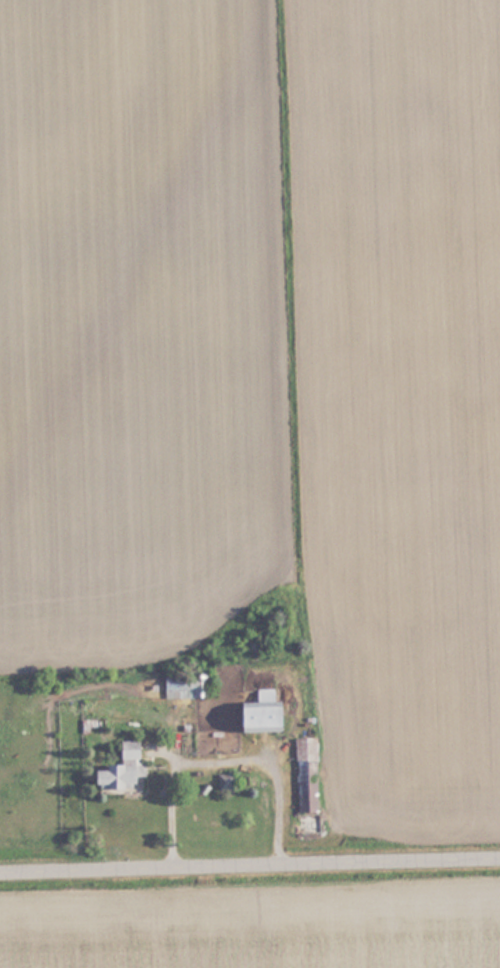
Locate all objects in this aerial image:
building: (271, 713)
building: (129, 769)
building: (311, 774)
road: (250, 865)

